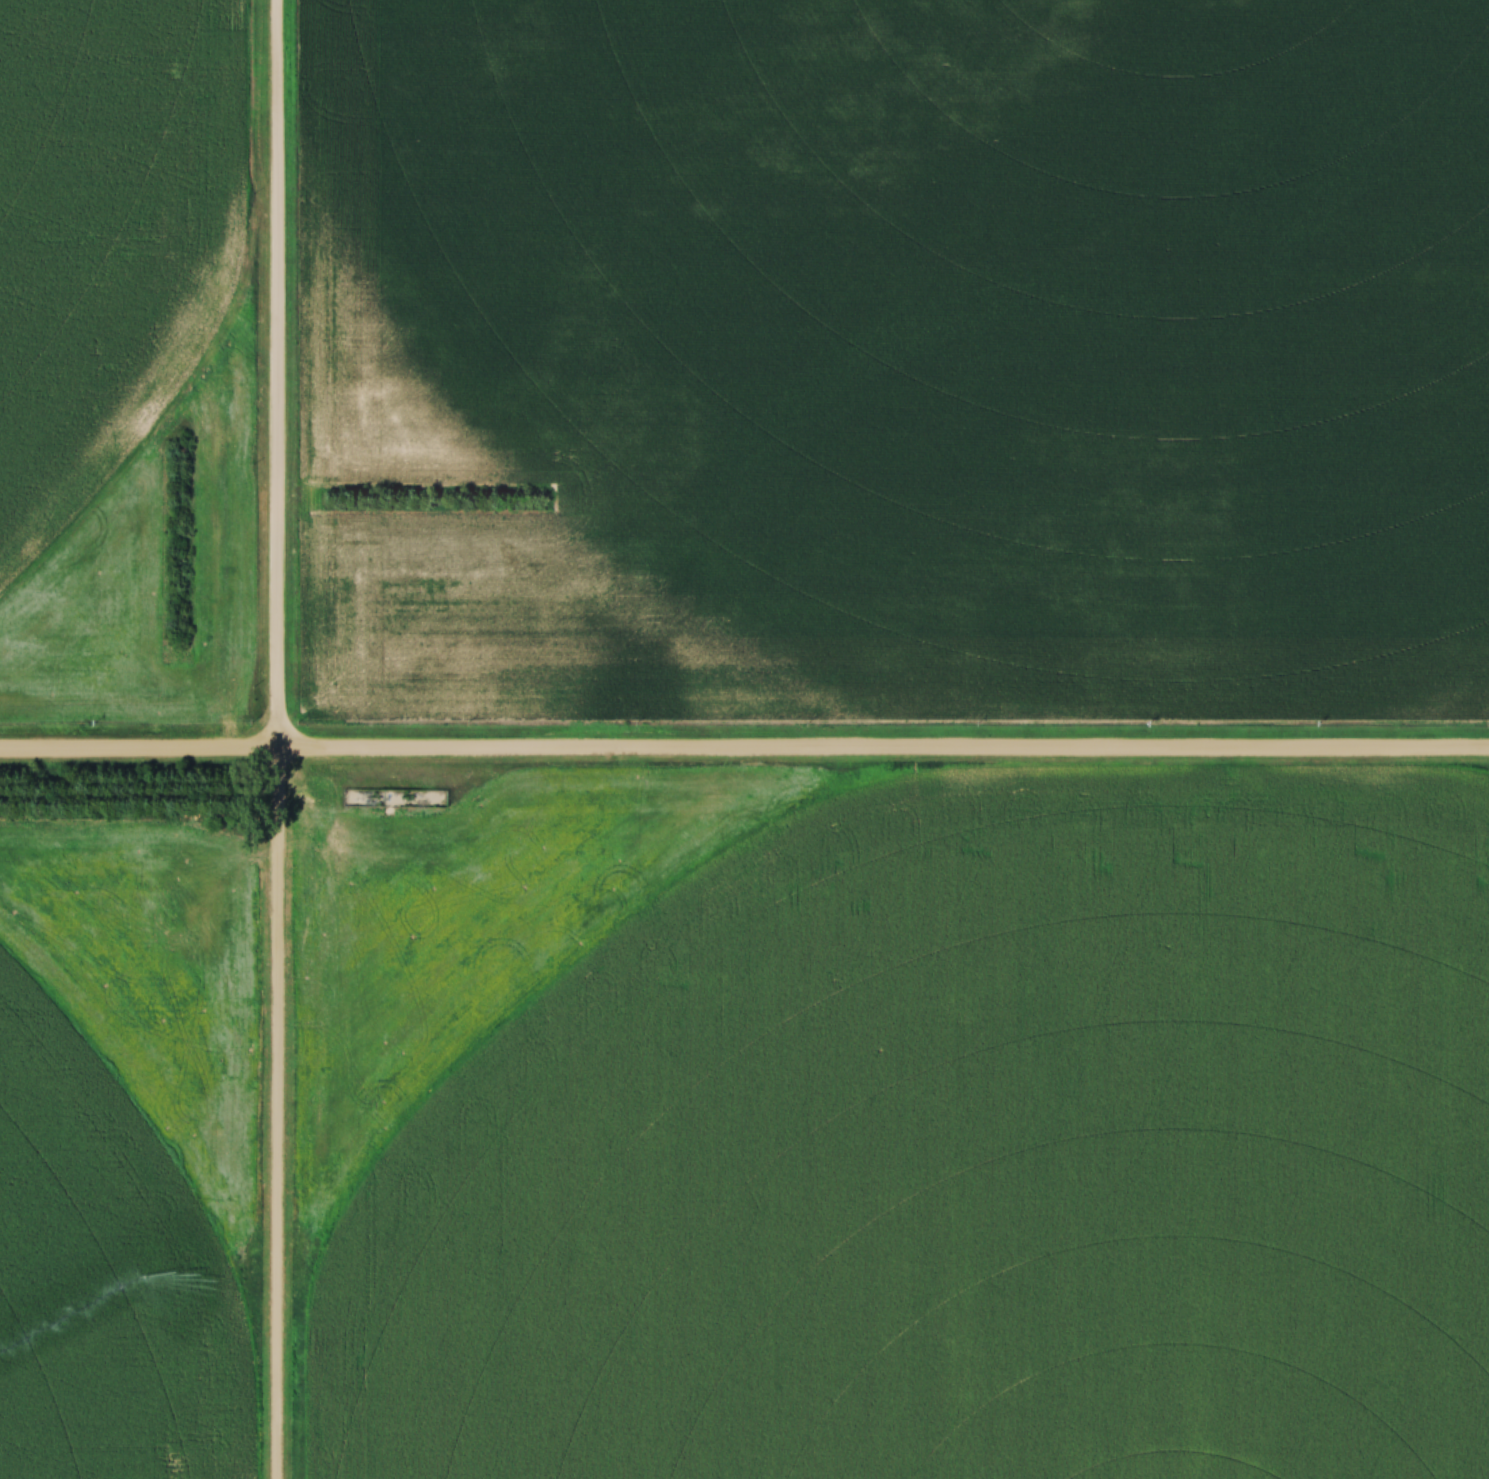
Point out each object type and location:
road: (278, 739)
road: (744, 753)

